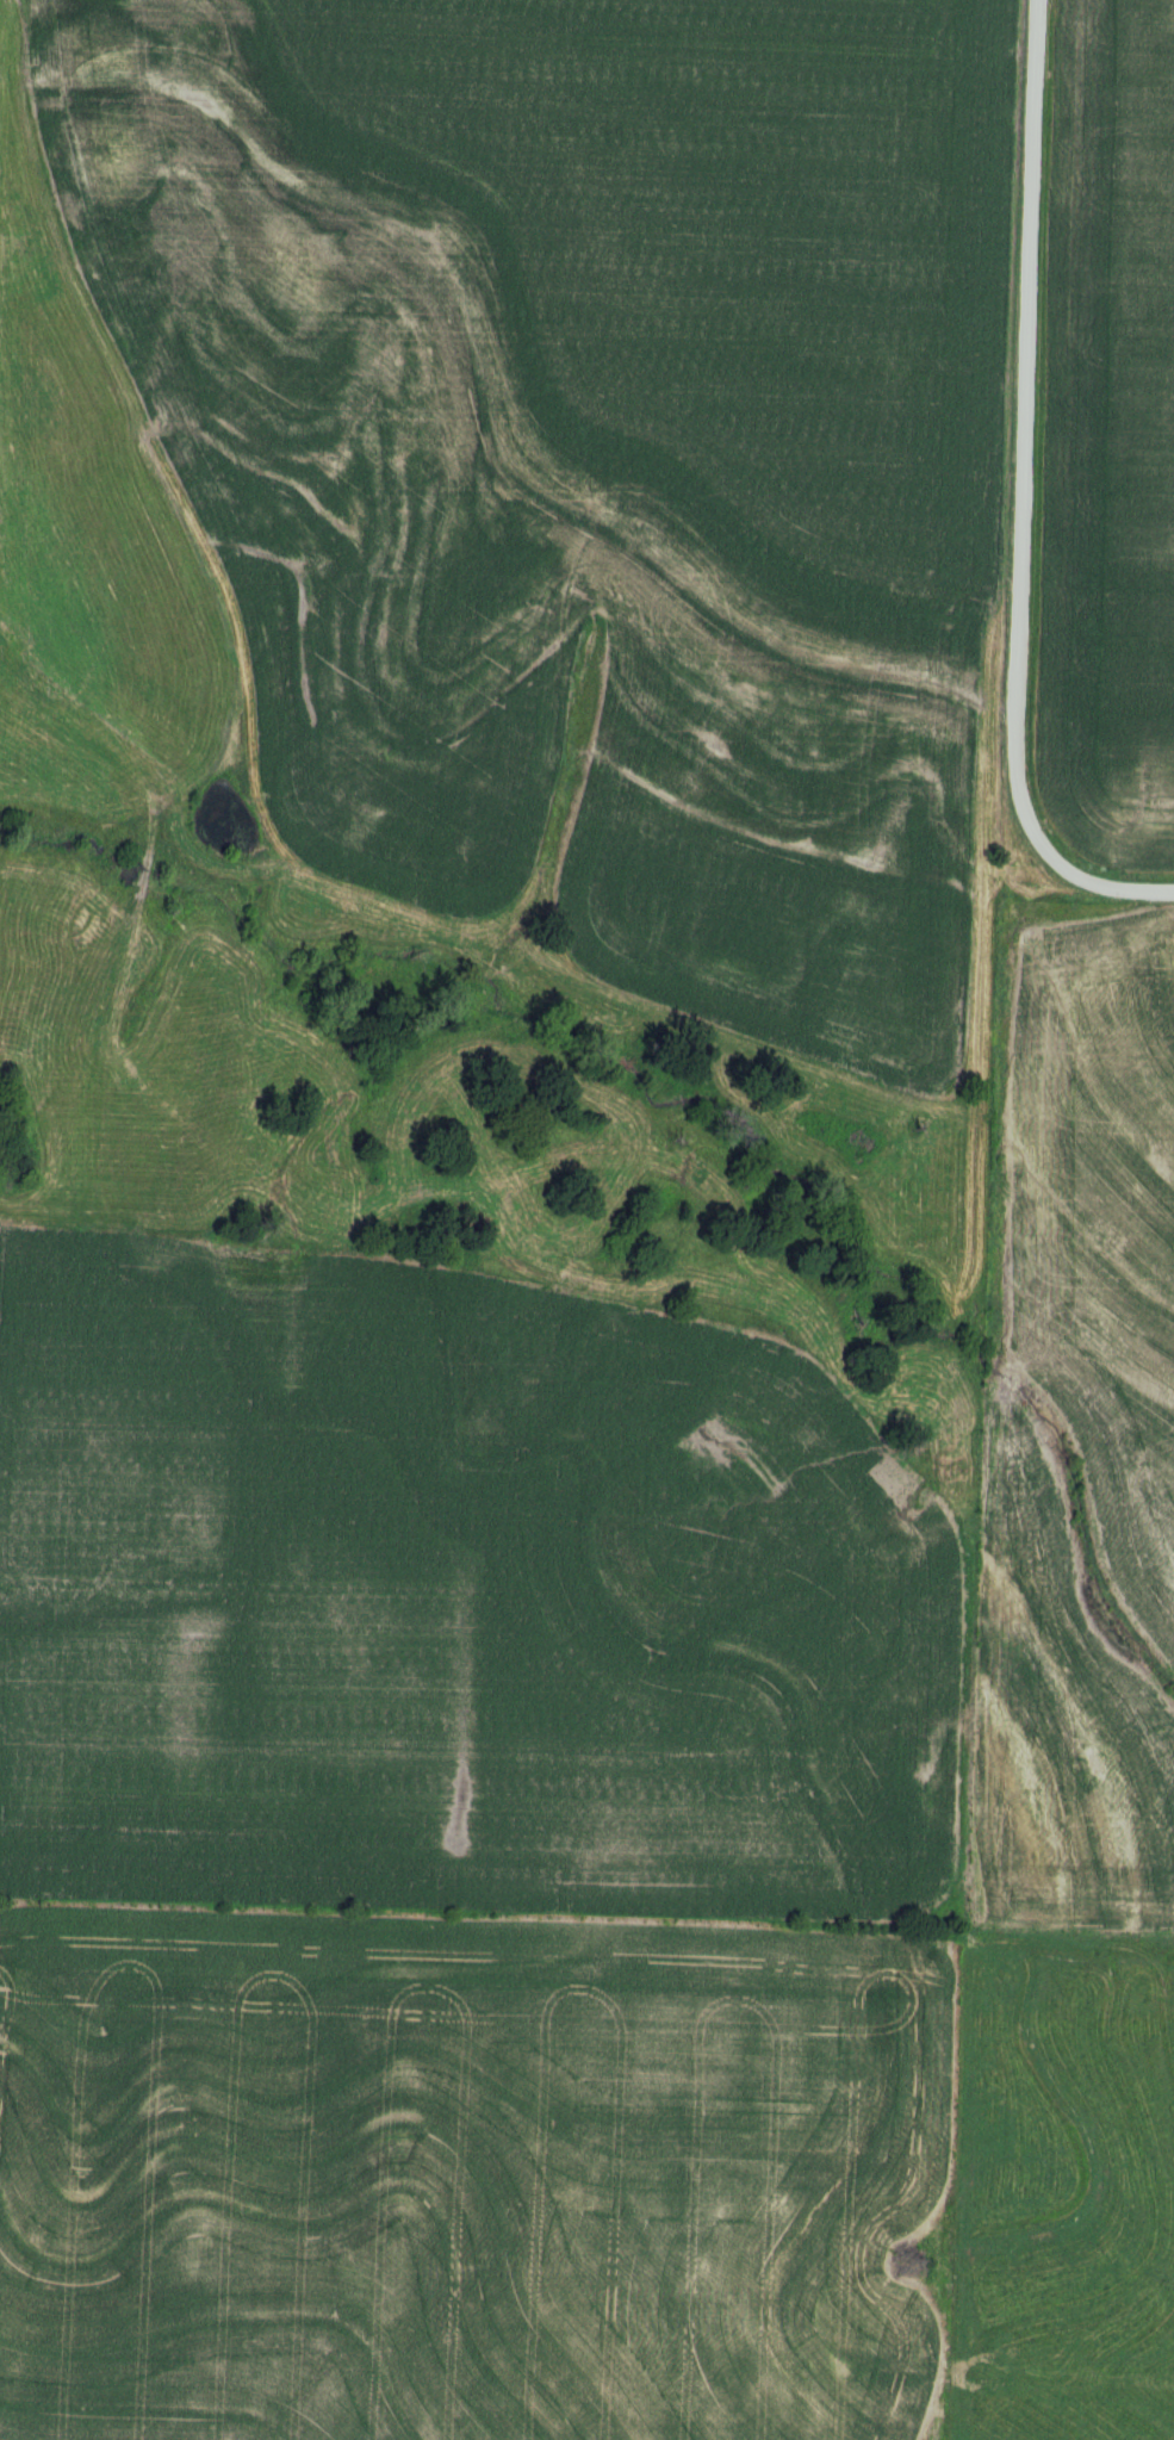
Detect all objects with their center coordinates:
road: (1019, 498)

